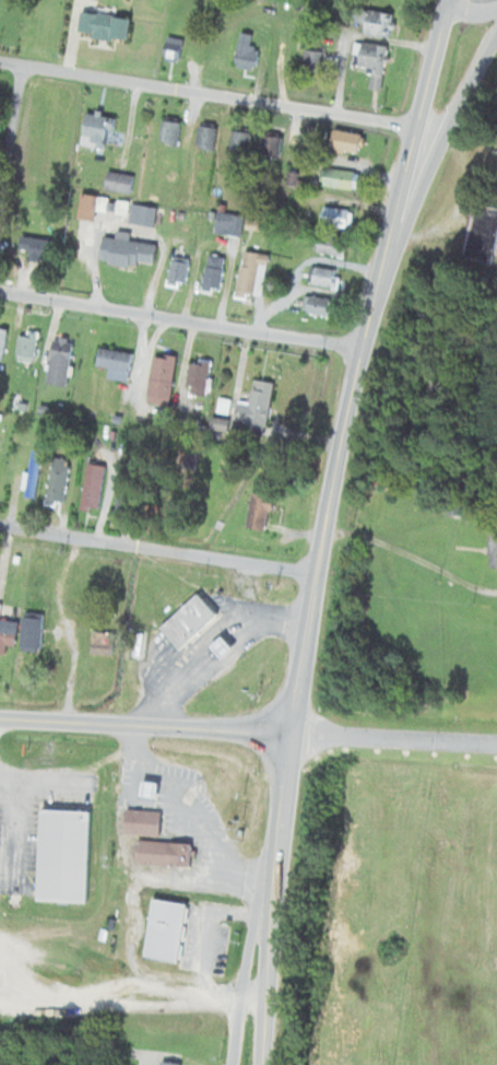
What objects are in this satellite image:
road: (472, 9)
building: (380, 23)
building: (109, 26)
building: (177, 49)
building: (249, 51)
building: (313, 60)
building: (374, 61)
road: (209, 93)
building: (100, 130)
road: (11, 132)
building: (173, 132)
building: (209, 137)
building: (348, 141)
building: (241, 145)
building: (274, 145)
road: (440, 149)
building: (343, 179)
building: (121, 183)
building: (91, 207)
building: (144, 215)
building: (338, 218)
building: (230, 224)
building: (484, 233)
building: (331, 246)
building: (39, 248)
building: (130, 250)
building: (181, 271)
building: (216, 272)
building: (255, 274)
building: (326, 278)
building: (320, 306)
road: (181, 320)
building: (3, 344)
building: (29, 347)
building: (62, 363)
building: (118, 364)
building: (164, 376)
building: (200, 377)
building: (258, 405)
building: (226, 425)
building: (35, 475)
building: (60, 481)
building: (95, 485)
building: (128, 501)
building: (261, 512)
road: (326, 527)
building: (495, 542)
road: (158, 550)
building: (17, 559)
building: (496, 561)
building: (192, 621)
building: (8, 632)
building: (34, 632)
building: (104, 643)
road: (215, 644)
building: (226, 648)
gas station: (226, 648)
road: (145, 725)
road: (394, 739)
road: (48, 784)
building: (153, 791)
gas station: (153, 791)
road: (197, 814)
building: (144, 821)
parking lot: (28, 831)
road: (14, 839)
building: (165, 854)
building: (66, 855)
road: (206, 917)
building: (168, 933)
parking lot: (214, 950)
road: (249, 951)
building: (169, 1064)

